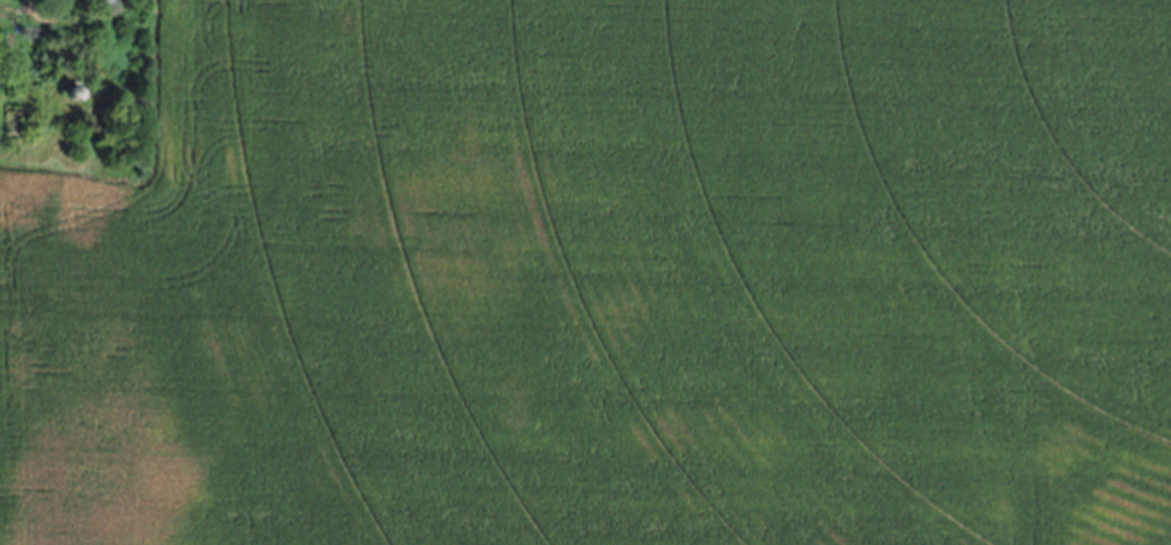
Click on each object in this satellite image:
building: (101, 1)

